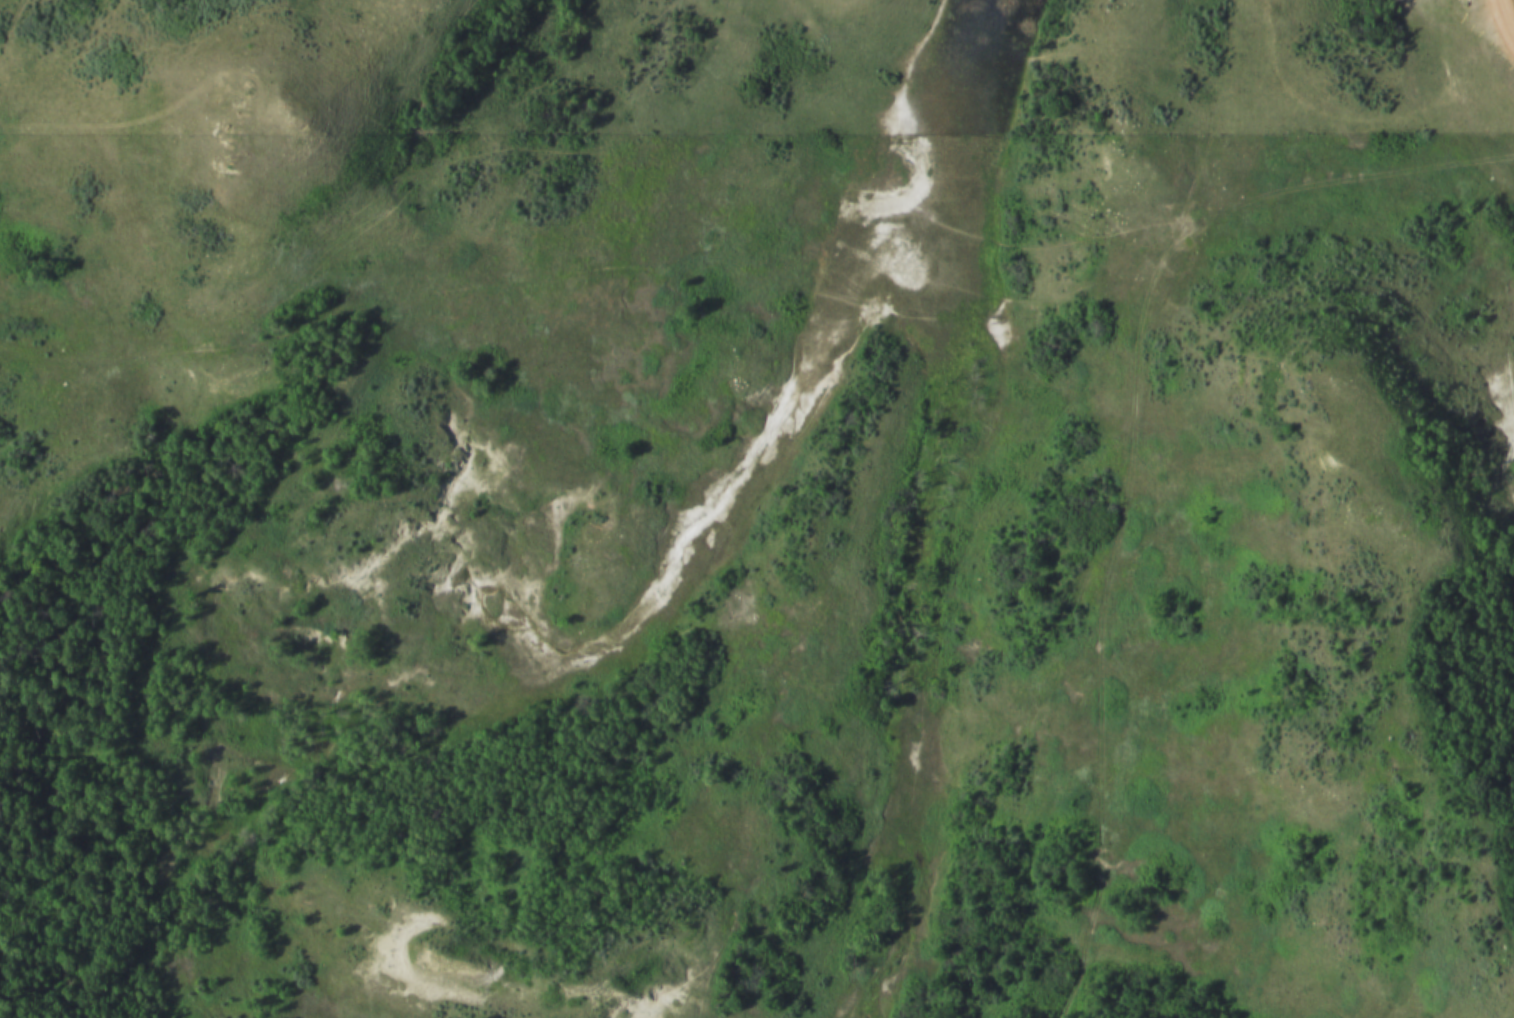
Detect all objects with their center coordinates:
road: (1502, 24)

